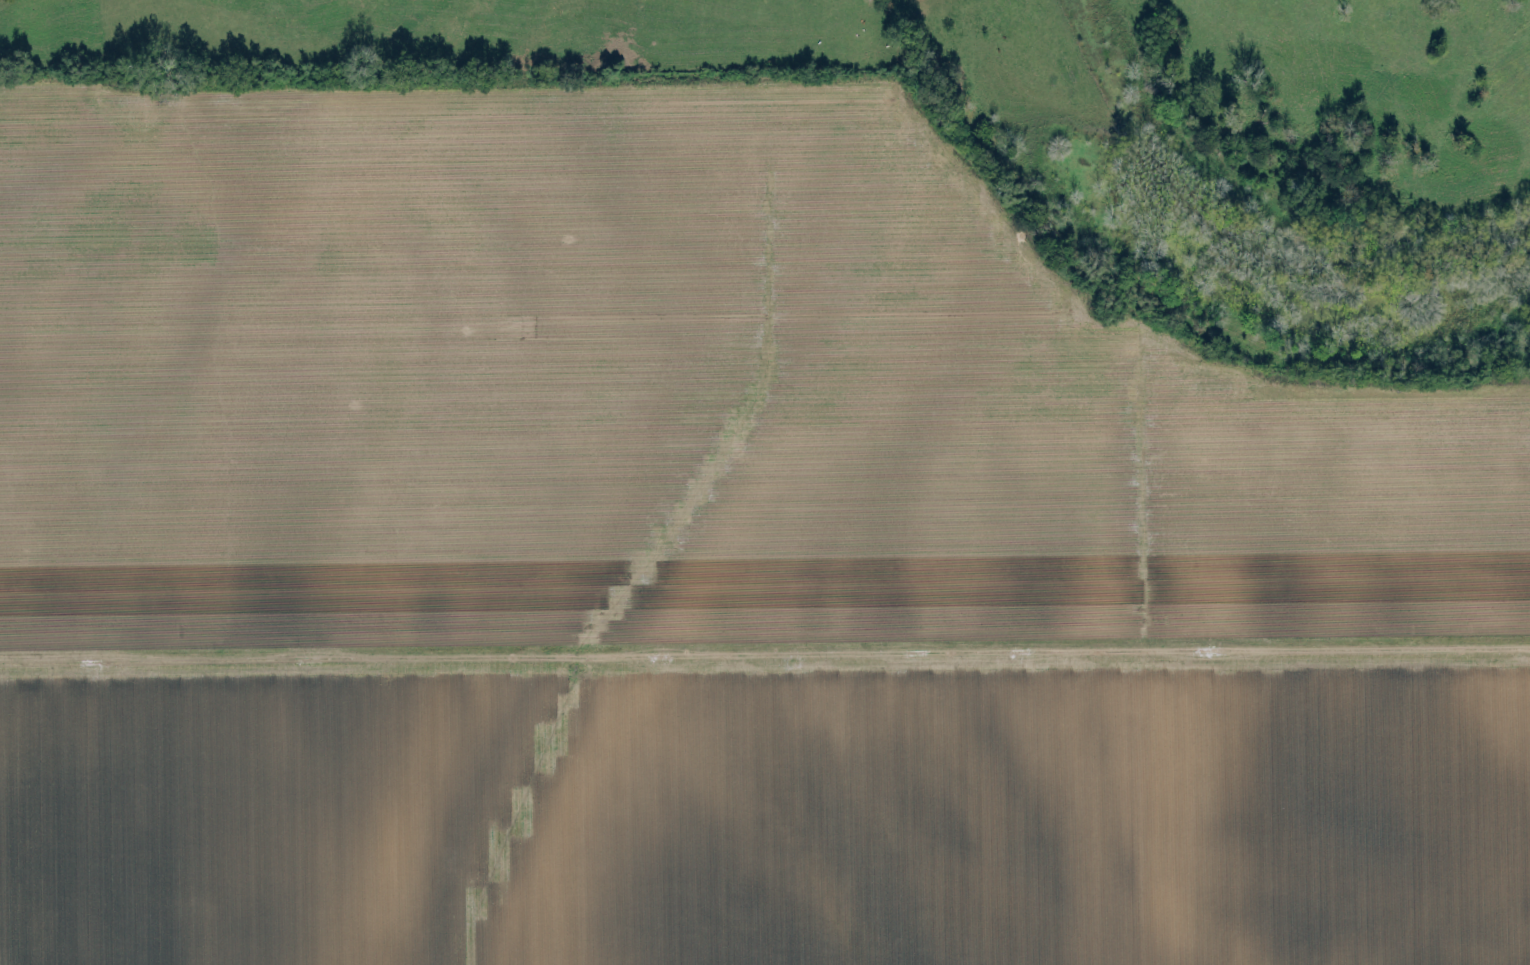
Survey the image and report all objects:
road: (765, 654)

